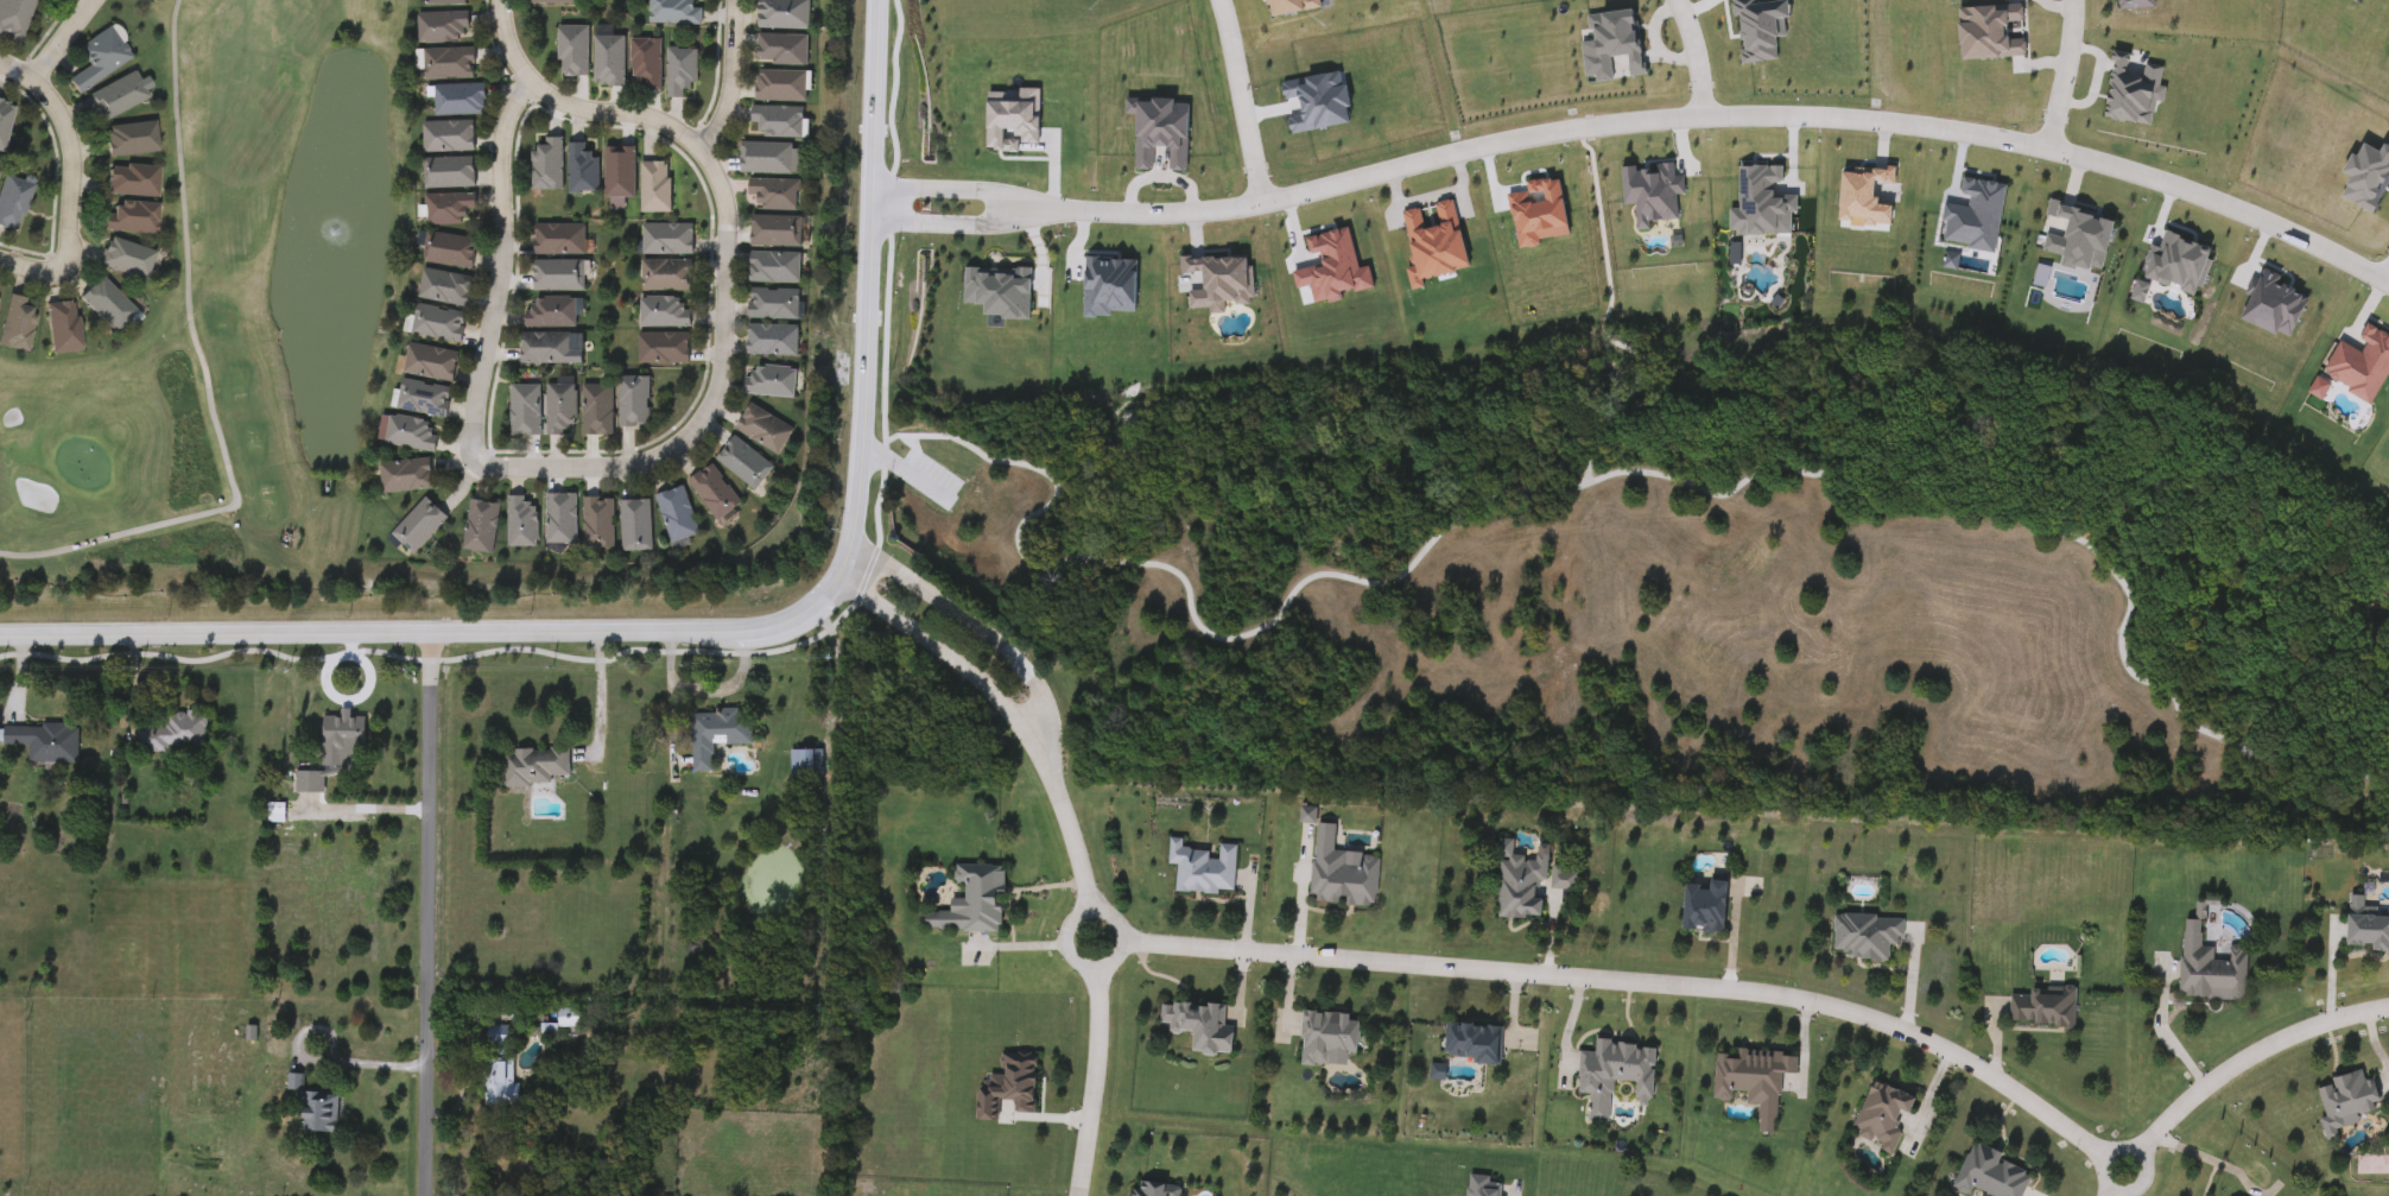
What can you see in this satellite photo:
building: (449, 2)
building: (555, 2)
building: (678, 13)
road: (1096, 13)
building: (786, 14)
building: (15, 19)
building: (446, 29)
road: (59, 34)
building: (785, 51)
building: (577, 52)
road: (1693, 58)
building: (101, 59)
road: (17, 62)
building: (613, 63)
building: (451, 64)
building: (649, 64)
building: (684, 75)
road: (734, 75)
road: (2064, 75)
road: (2096, 83)
building: (784, 87)
building: (119, 97)
building: (463, 100)
road: (1242, 101)
building: (774, 120)
road: (1721, 120)
building: (6, 125)
building: (451, 138)
building: (133, 140)
building: (768, 158)
building: (544, 164)
building: (578, 169)
building: (0, 172)
building: (616, 172)
building: (452, 173)
building: (135, 183)
building: (651, 185)
road: (955, 189)
road: (66, 192)
building: (772, 192)
building: (13, 203)
building: (454, 210)
building: (134, 220)
road: (952, 224)
building: (773, 230)
building: (556, 239)
building: (663, 239)
building: (452, 252)
building: (128, 260)
road: (723, 265)
building: (771, 266)
road: (499, 271)
road: (2387, 274)
building: (556, 276)
building: (661, 276)
building: (448, 289)
building: (769, 303)
building: (109, 306)
building: (547, 311)
building: (661, 312)
building: (19, 324)
building: (441, 325)
building: (64, 329)
park: (236, 333)
building: (768, 340)
building: (543, 348)
building: (659, 348)
building: (432, 363)
road: (207, 373)
building: (766, 380)
building: (425, 399)
building: (629, 400)
building: (558, 406)
building: (521, 409)
building: (594, 409)
building: (761, 428)
building: (412, 434)
building: (741, 462)
park: (84, 463)
building: (408, 476)
building: (711, 491)
building: (674, 513)
building: (558, 518)
building: (518, 521)
building: (595, 521)
building: (633, 524)
building: (422, 525)
building: (482, 526)
road: (714, 620)
road: (967, 622)
road: (939, 650)
road: (601, 686)
building: (178, 733)
building: (715, 733)
building: (344, 739)
building: (46, 742)
building: (800, 764)
building: (537, 767)
building: (312, 783)
road: (367, 806)
road: (1065, 822)
building: (1200, 868)
building: (1338, 872)
building: (1560, 878)
building: (1517, 881)
road: (1300, 891)
building: (969, 901)
building: (1702, 906)
road: (426, 910)
building: (2365, 928)
building: (1863, 936)
road: (1100, 966)
building: (2207, 968)
road: (1631, 983)
building: (2041, 1006)
building: (571, 1019)
building: (1197, 1026)
building: (1324, 1038)
building: (1470, 1043)
road: (2250, 1055)
road: (360, 1062)
building: (501, 1067)
building: (1612, 1070)
building: (1750, 1081)
road: (1090, 1082)
building: (1005, 1086)
building: (2343, 1101)
building: (318, 1108)
building: (1880, 1114)
road: (2199, 1165)
building: (1986, 1173)
road: (2140, 1182)
building: (1481, 1185)
road: (1514, 1188)
building: (1151, 1189)
road: (2109, 1192)

